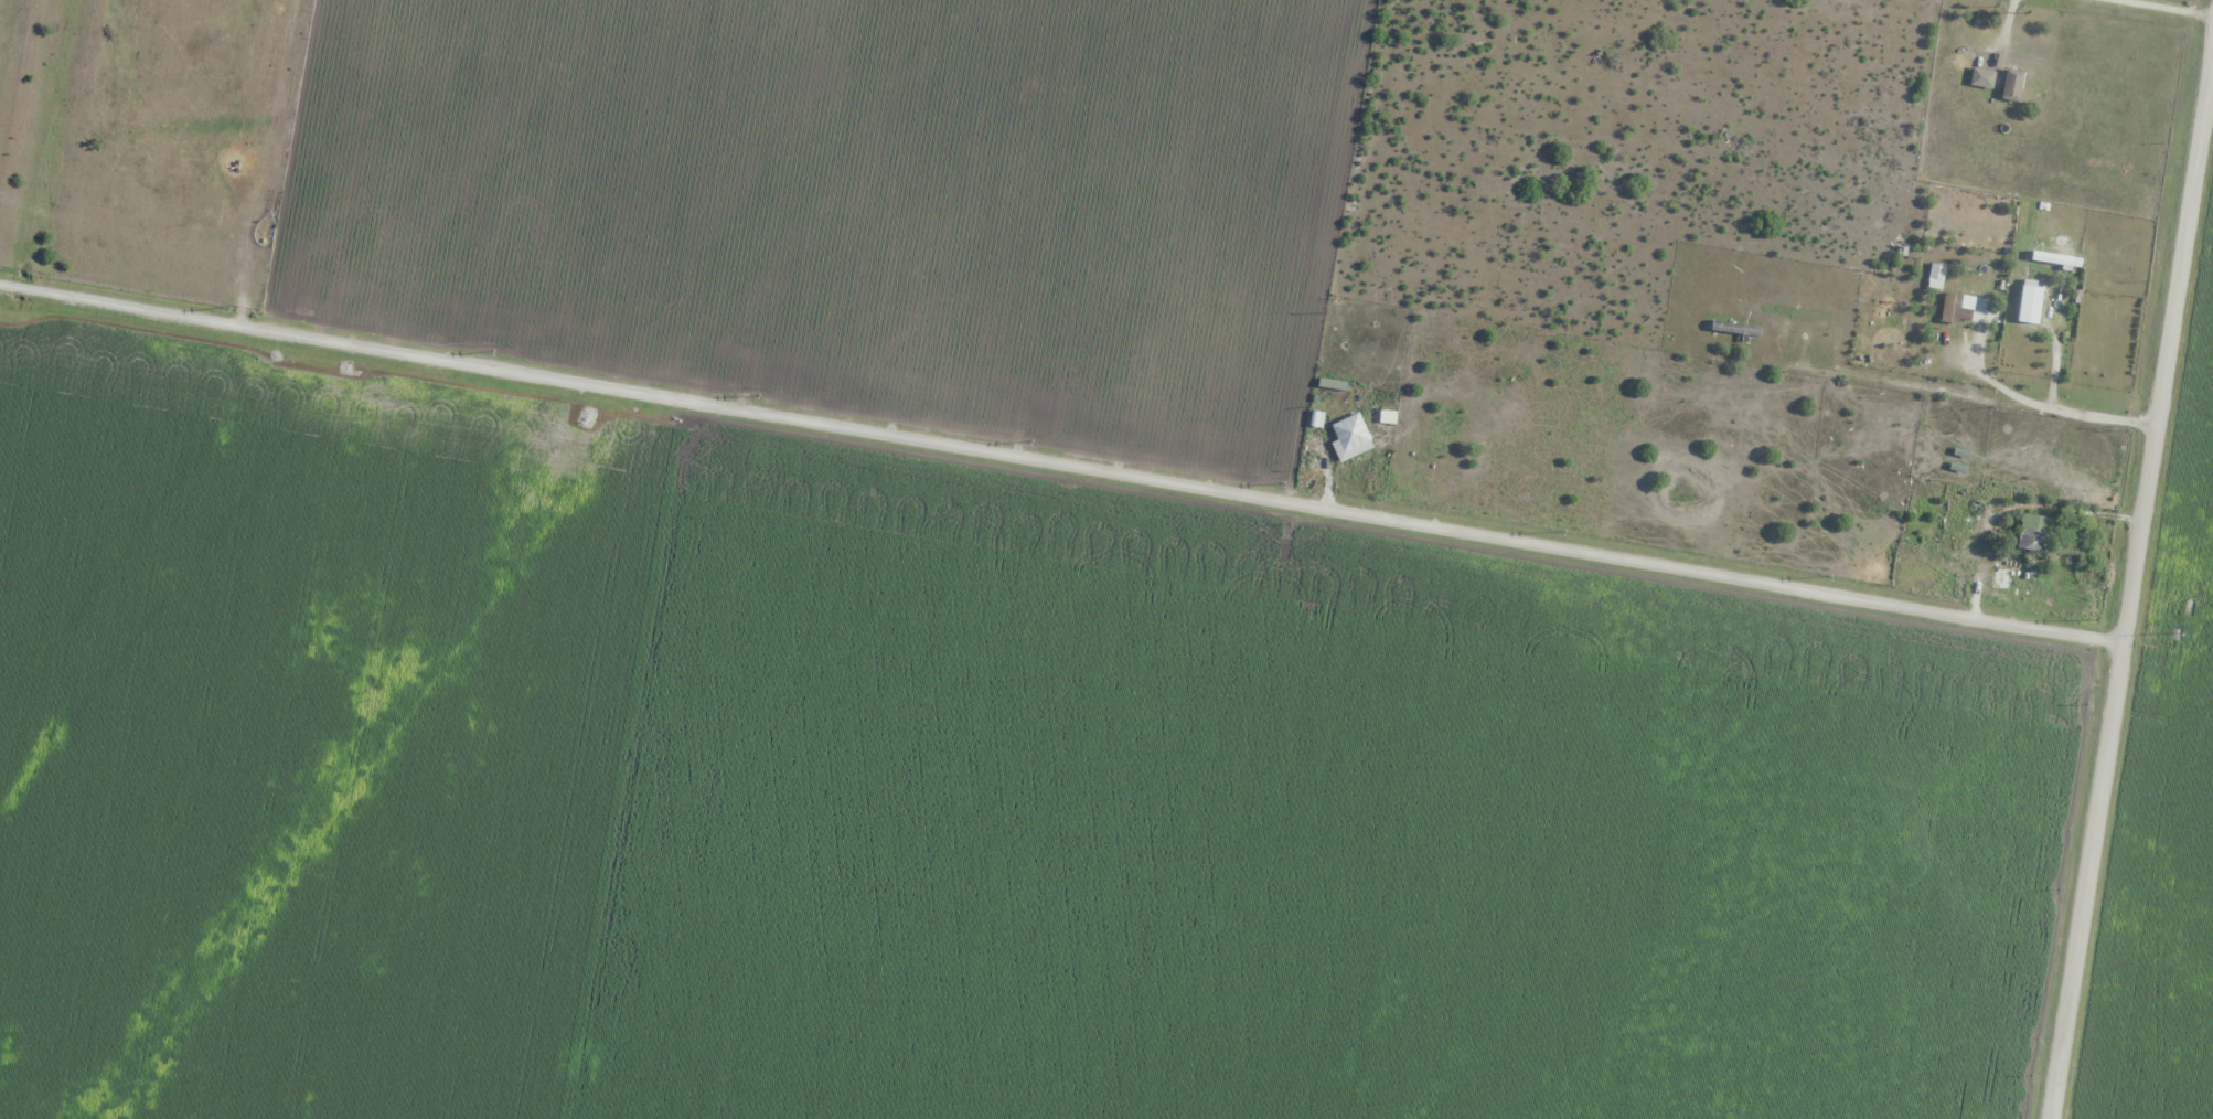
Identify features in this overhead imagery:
road: (2167, 7)
building: (1981, 77)
building: (2011, 85)
building: (2055, 258)
building: (1936, 271)
building: (2029, 303)
building: (1957, 307)
building: (1739, 328)
building: (1349, 437)
road: (1059, 477)
building: (2034, 532)
building: (1954, 535)
road: (2128, 574)

